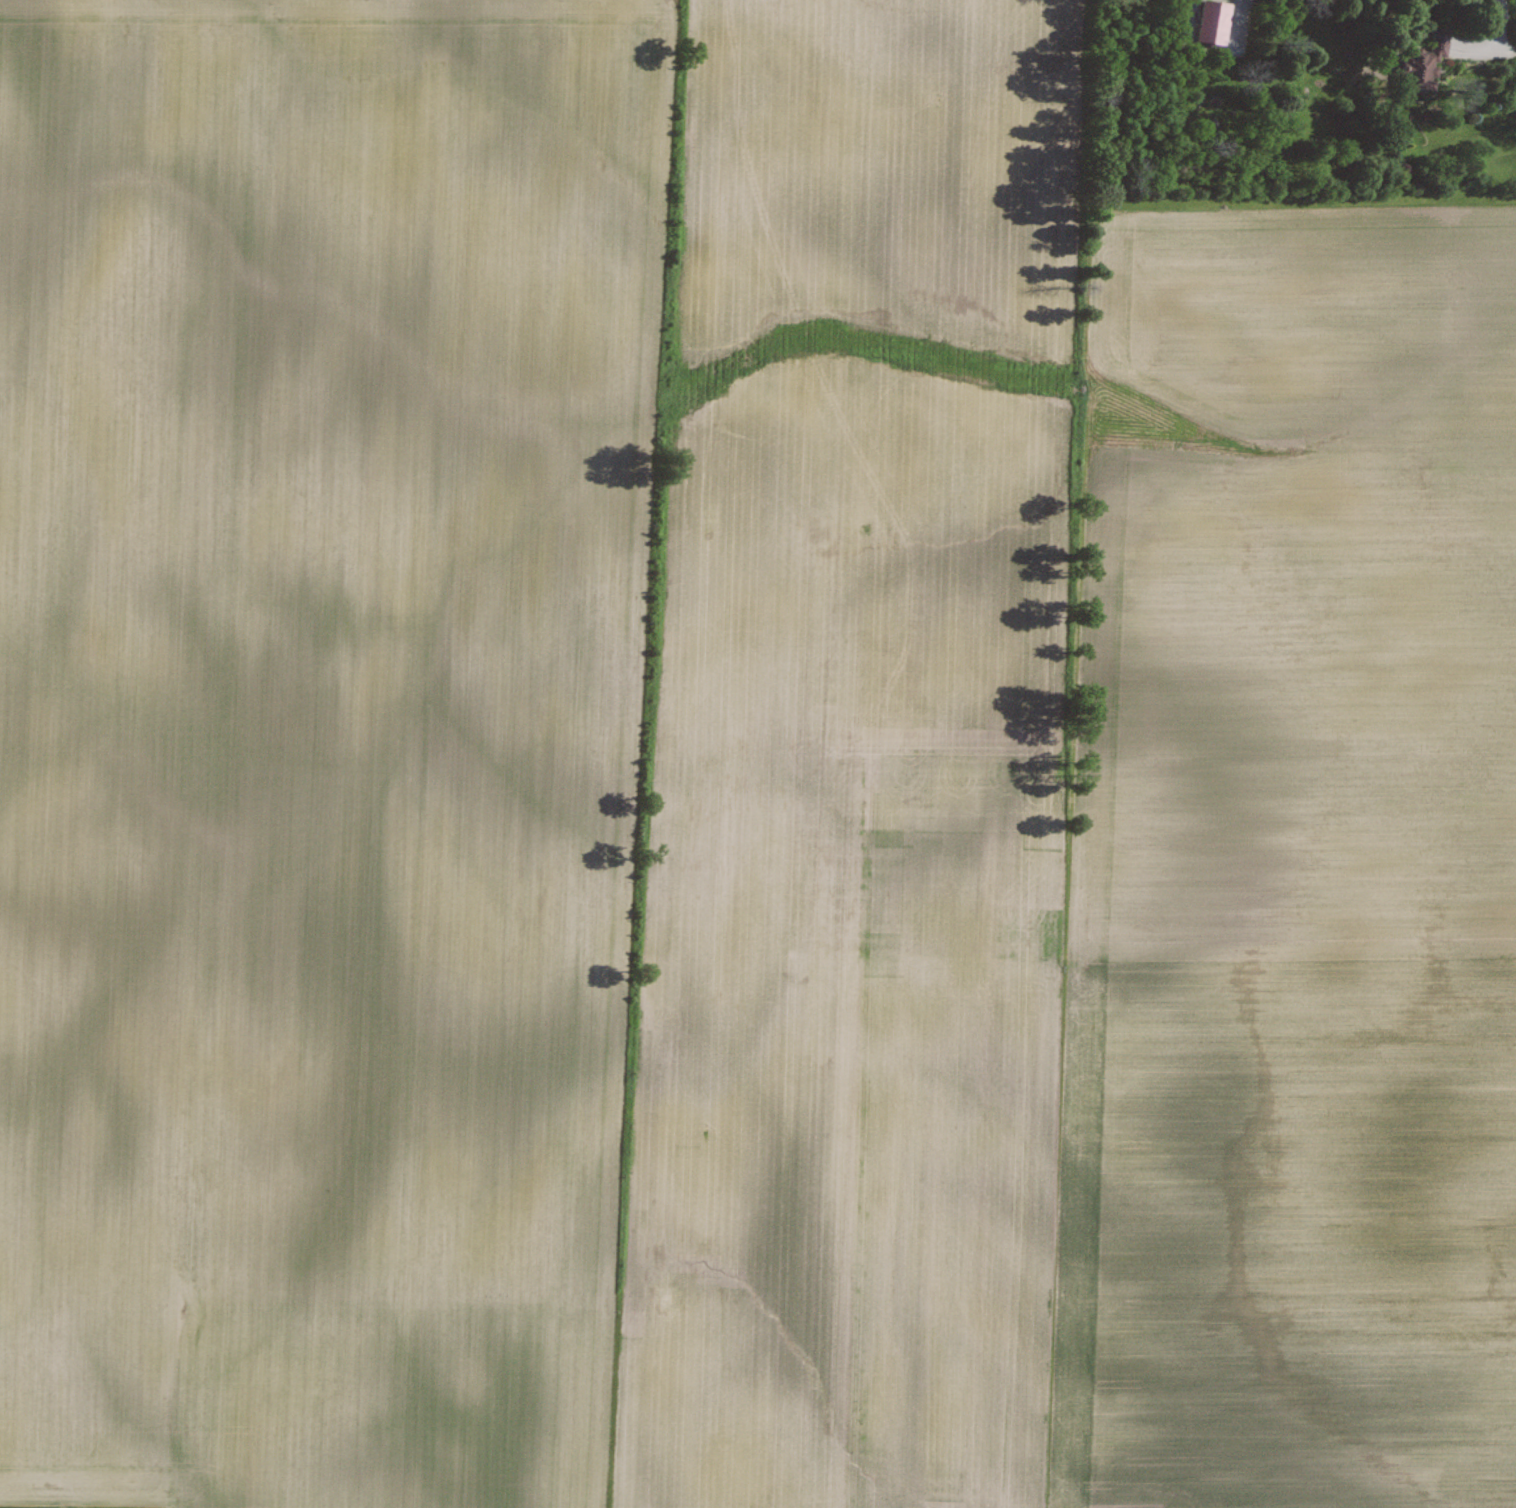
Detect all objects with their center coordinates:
building: (1207, 22)
road: (1494, 52)
building: (1416, 63)

